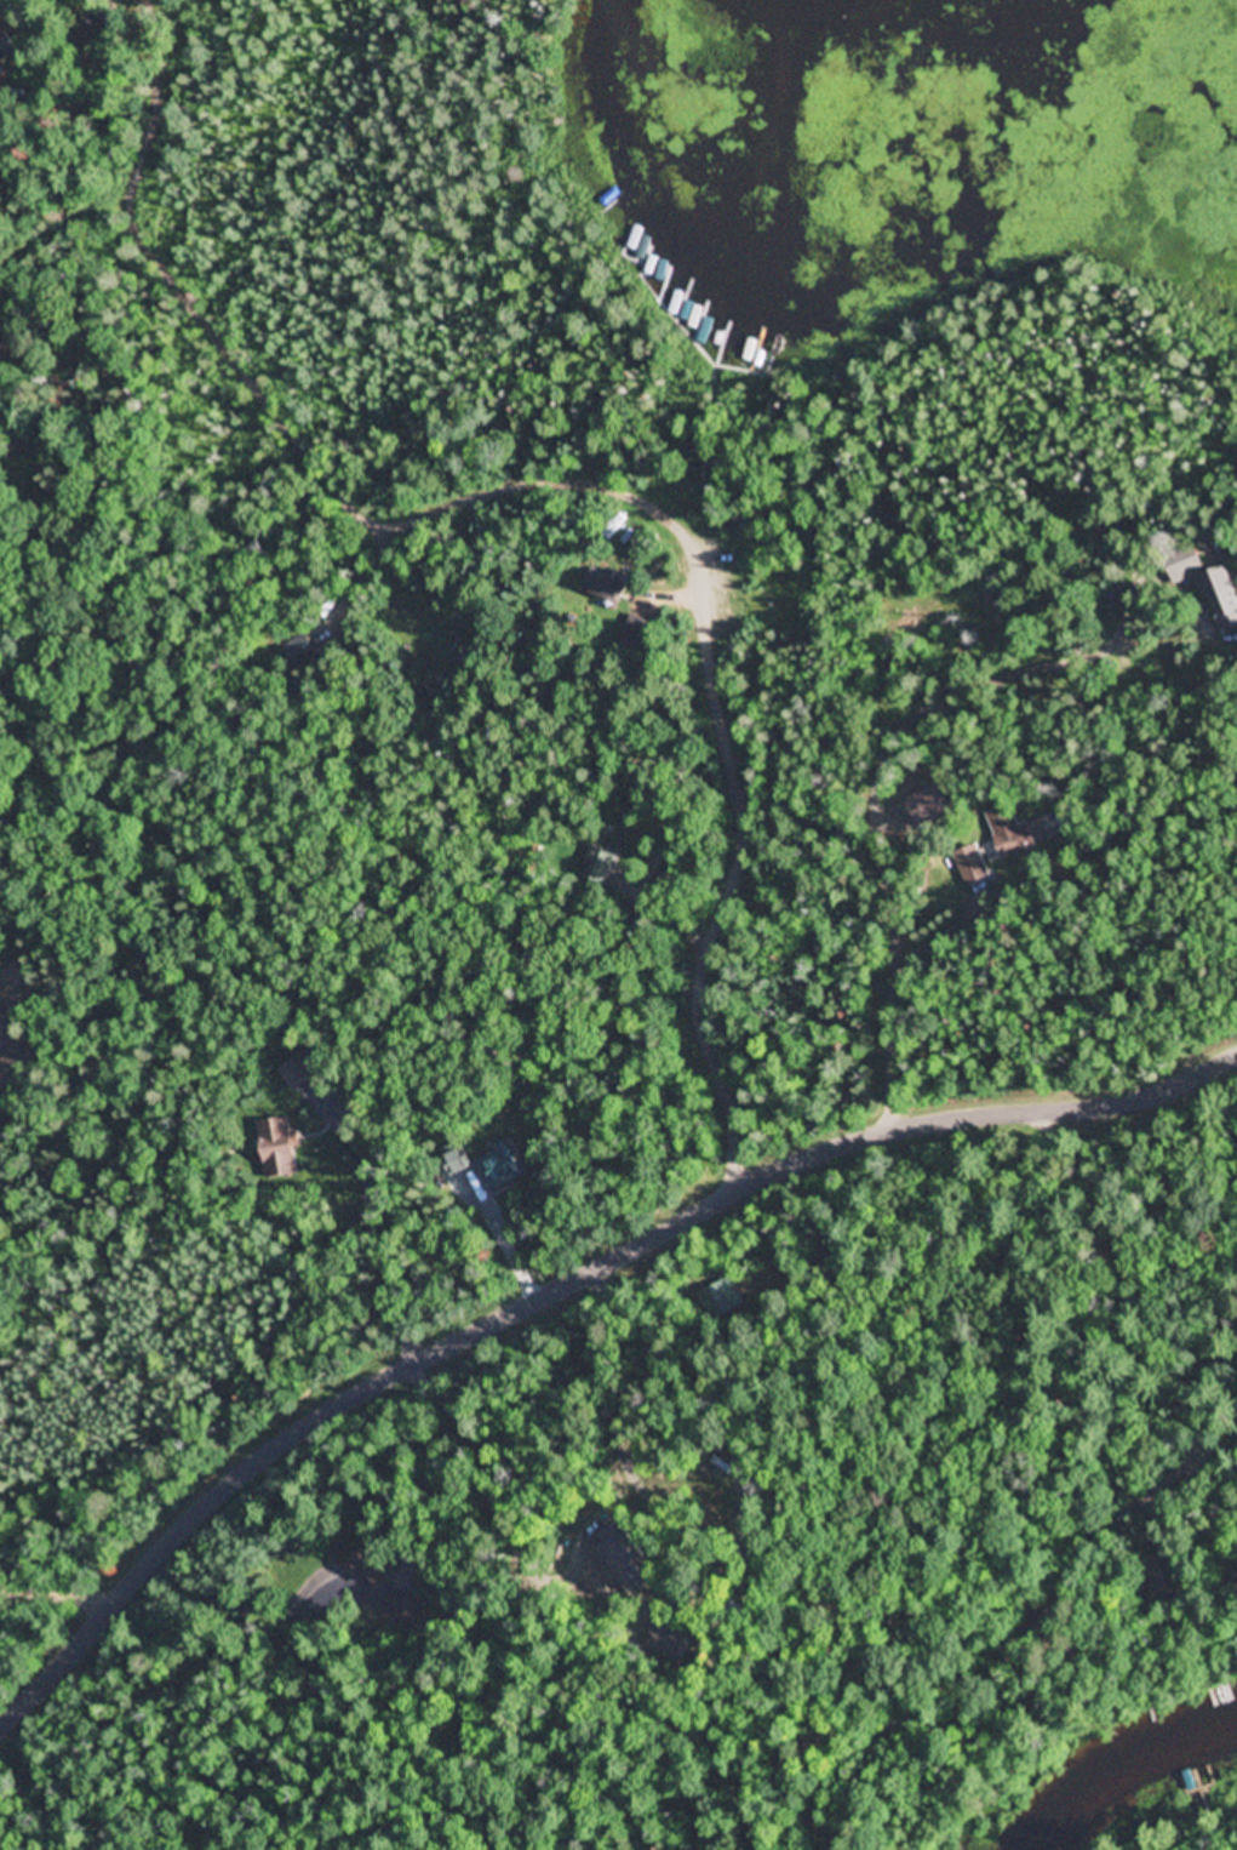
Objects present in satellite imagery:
building: (2, 55)
road: (603, 484)
building: (611, 587)
building: (1210, 590)
road: (977, 817)
building: (1013, 832)
building: (599, 864)
building: (973, 866)
building: (279, 1148)
building: (460, 1160)
building: (497, 1169)
road: (566, 1285)
road: (1132, 1298)
road: (600, 1416)
building: (368, 1568)
building: (1163, 1571)
building: (1219, 1697)
river: (1138, 1787)

